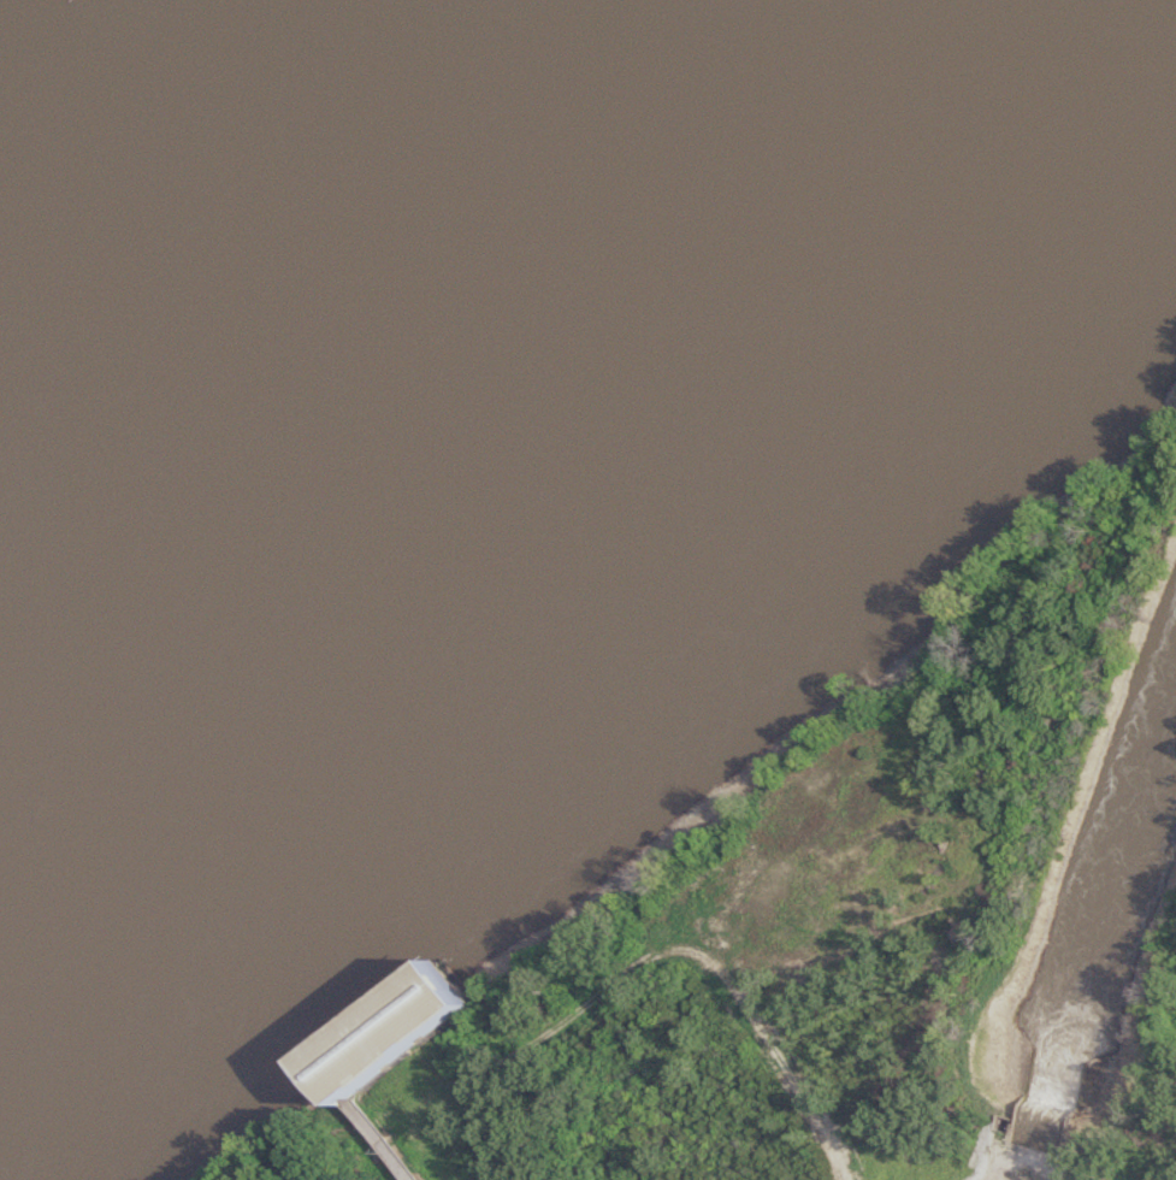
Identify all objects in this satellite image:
river: (491, 394)
building: (392, 1043)
building: (1042, 1093)
building: (1000, 1125)
power plant: (1018, 1163)

